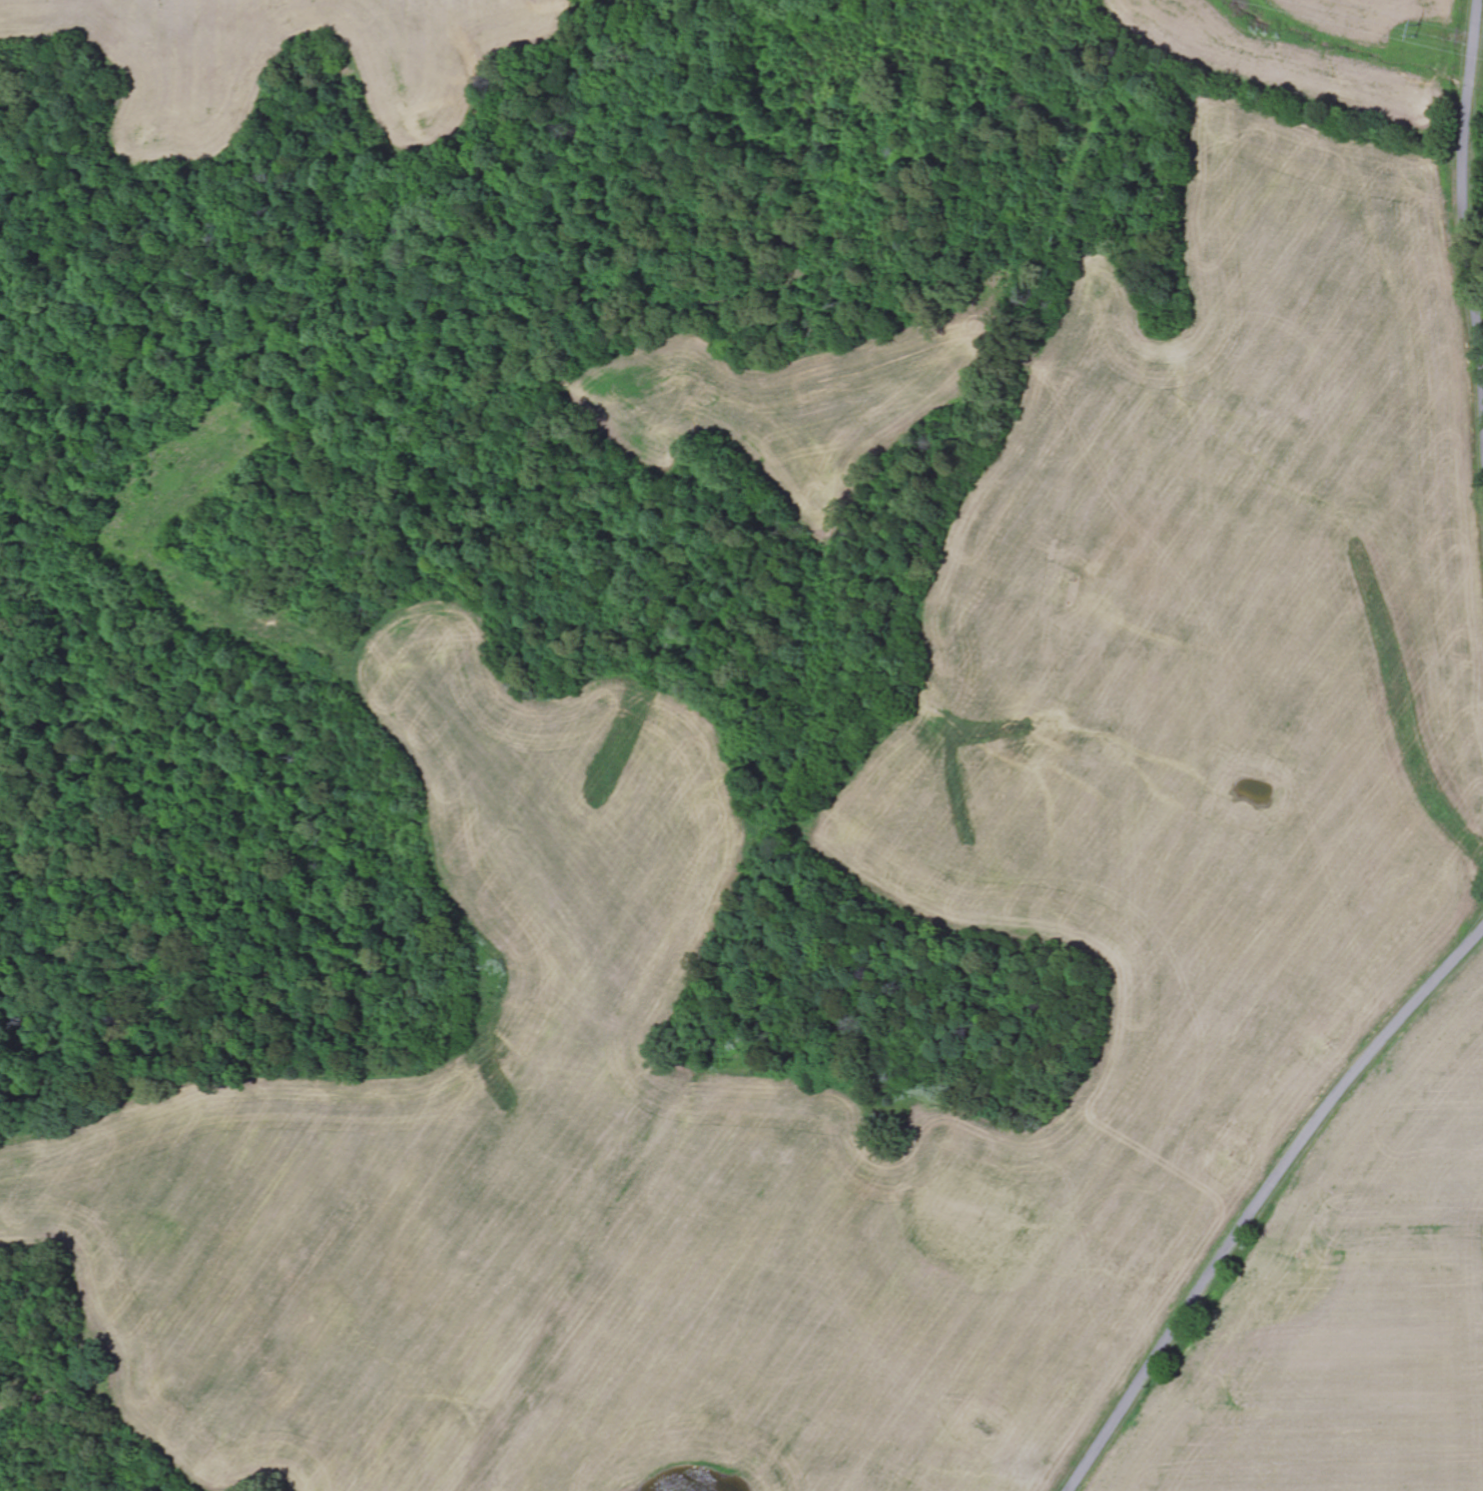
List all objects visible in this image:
power tower: (1419, 32)
road: (1466, 220)
road: (1261, 1200)

